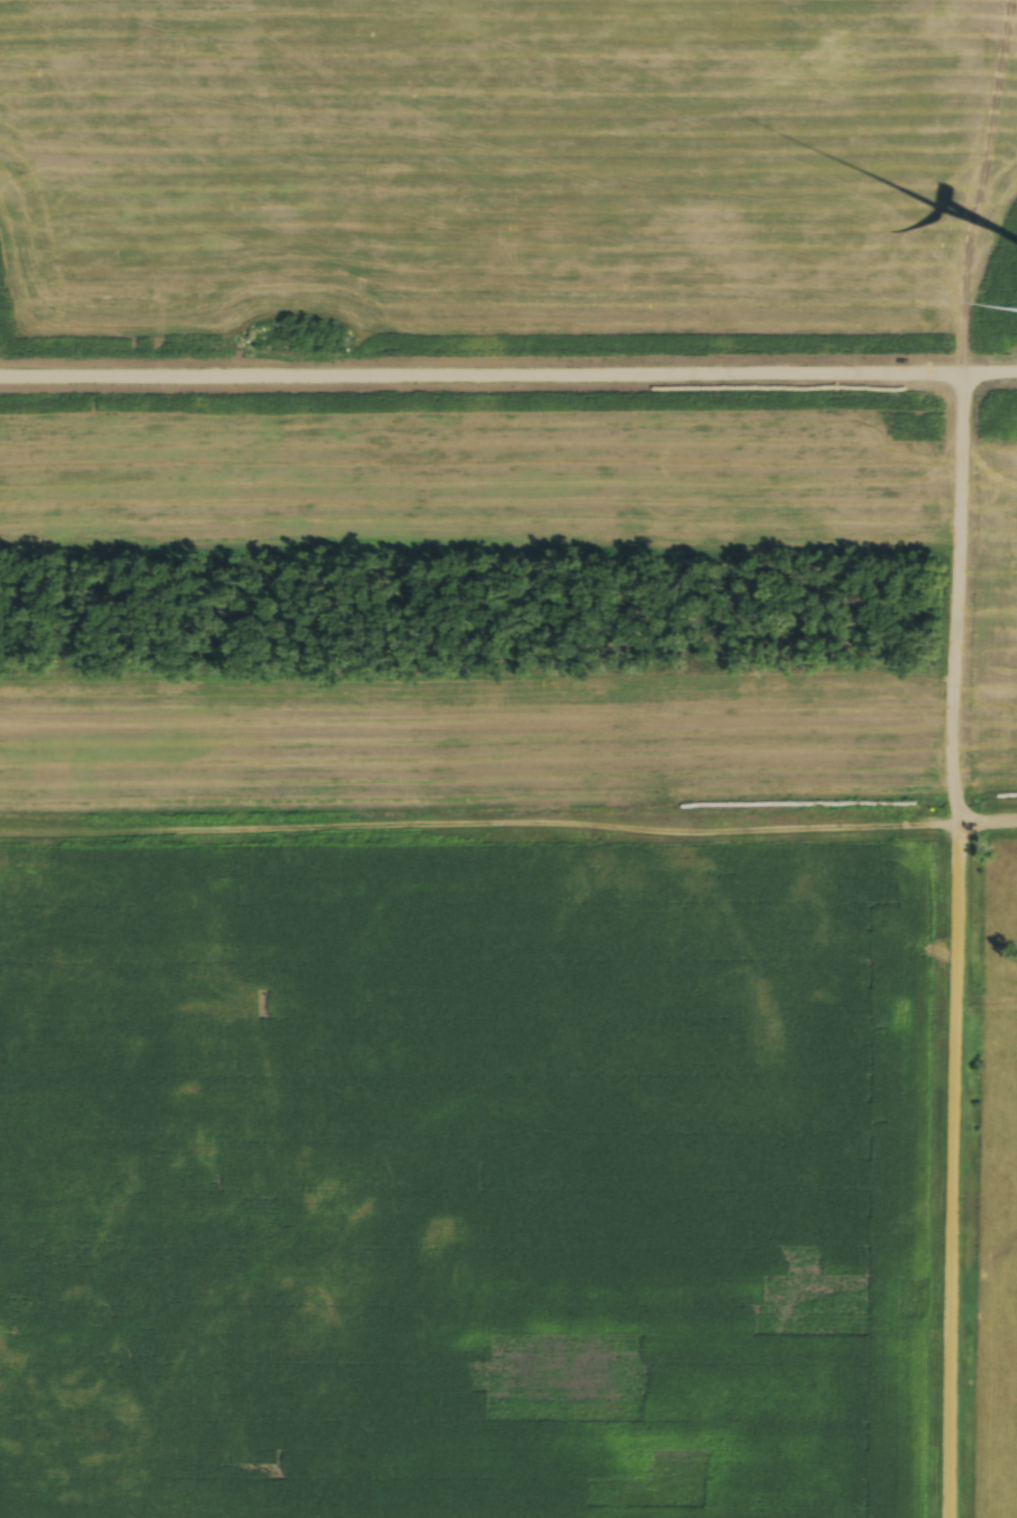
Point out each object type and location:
road: (964, 758)
road: (508, 826)

